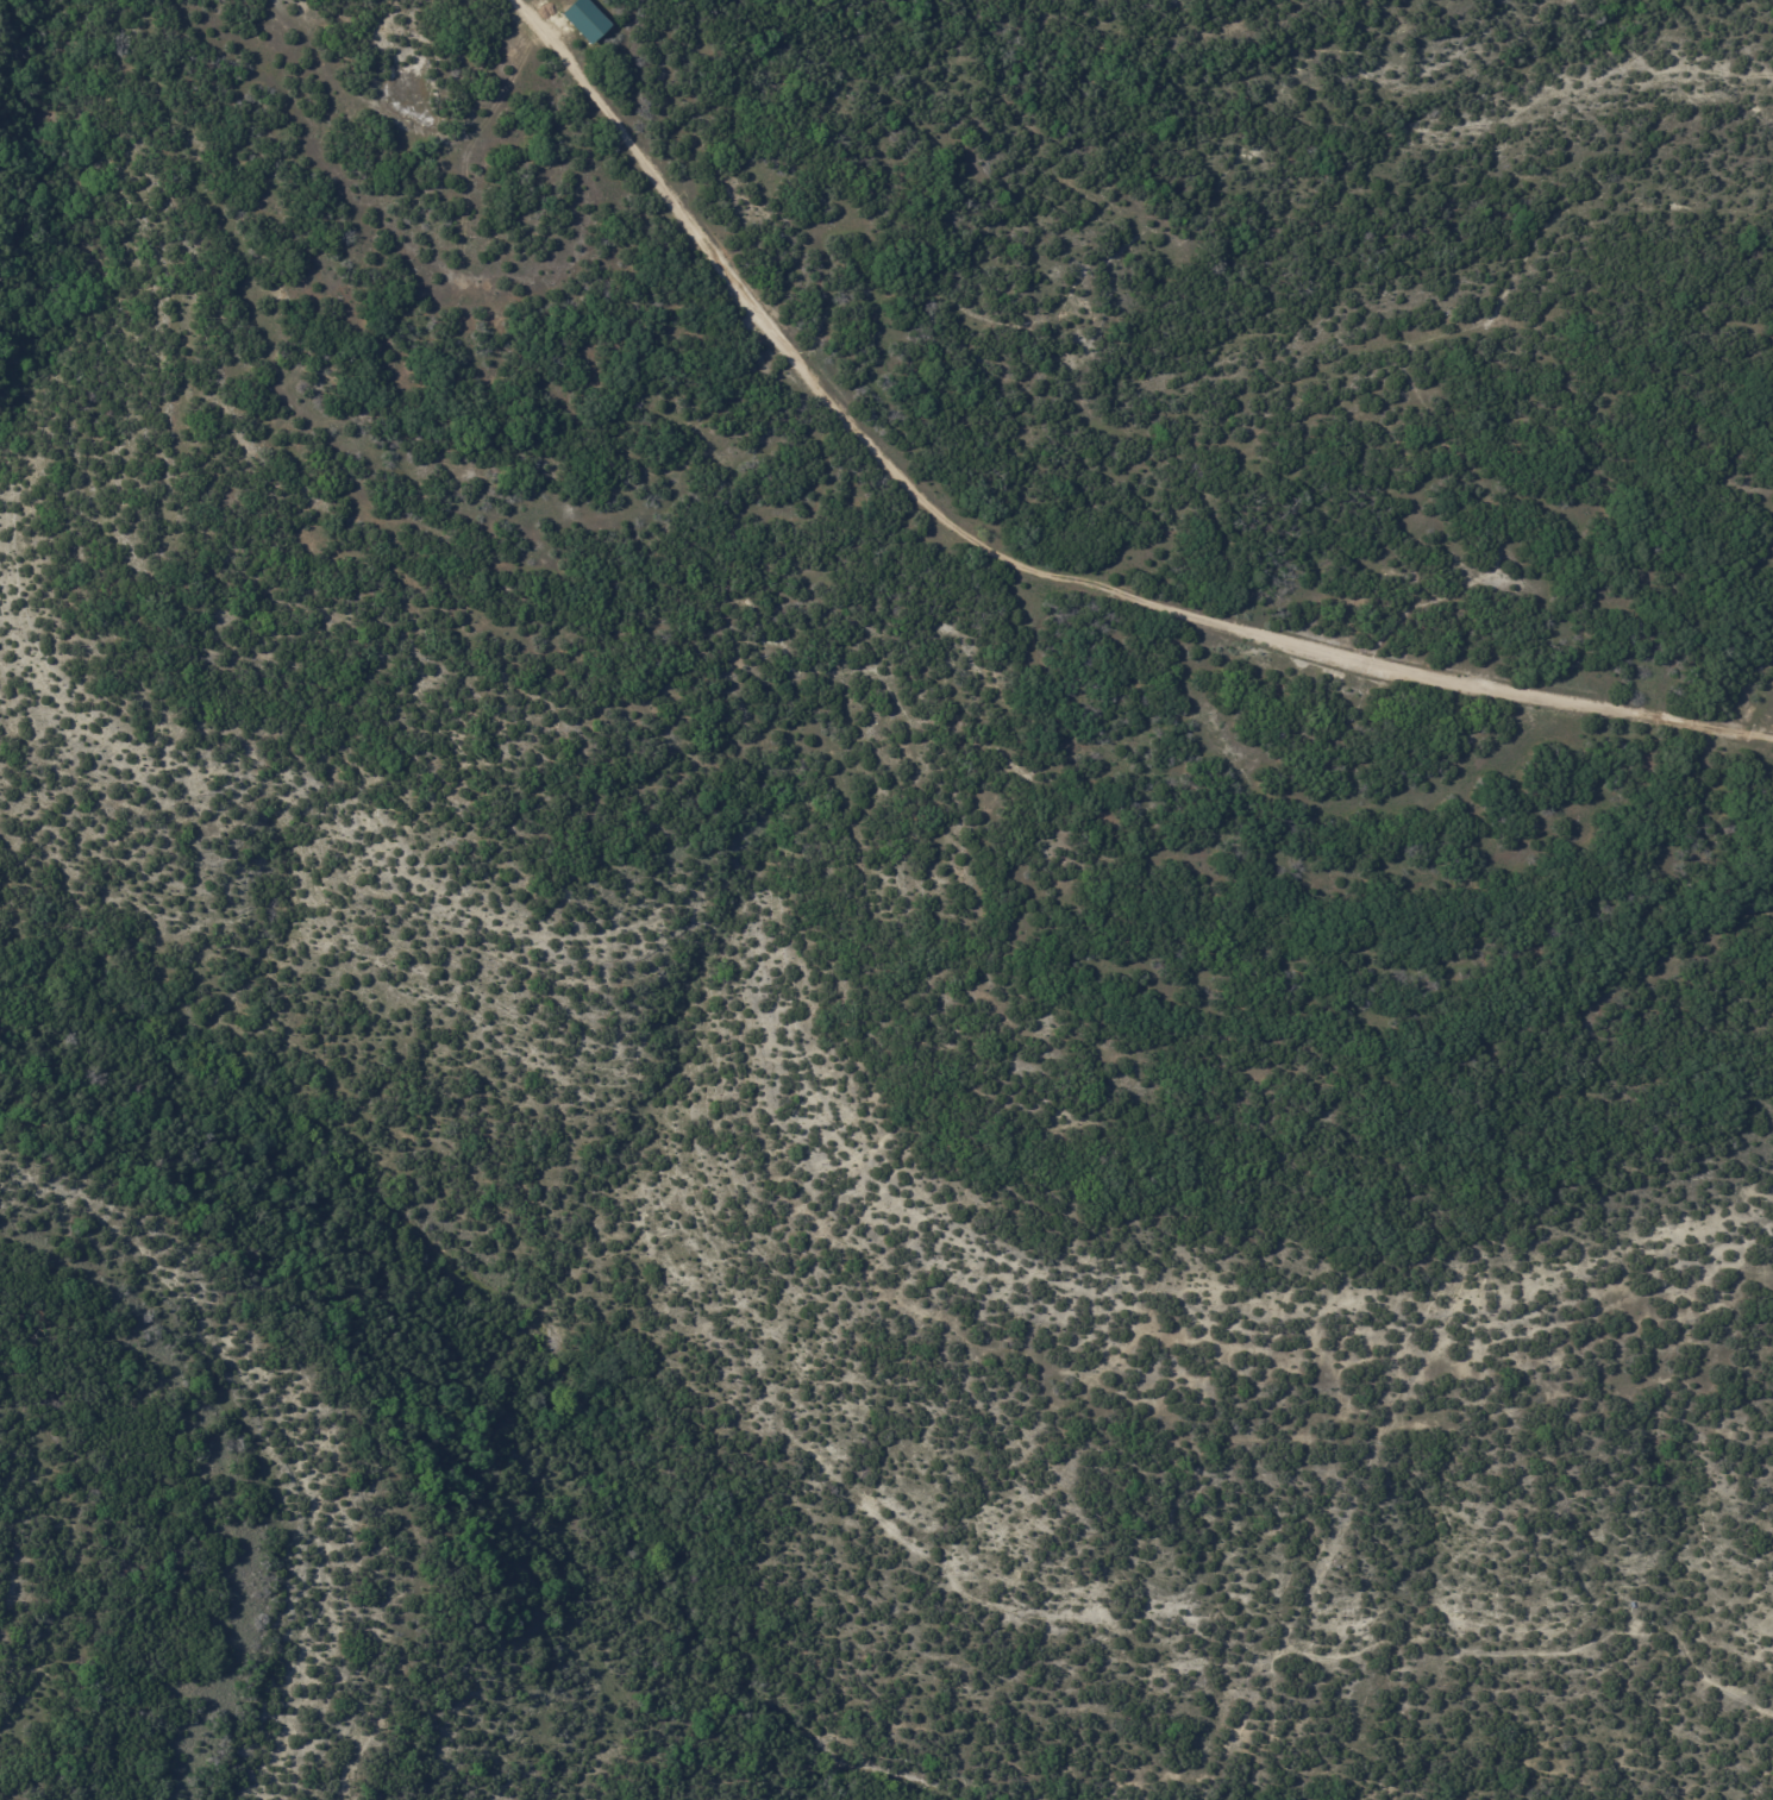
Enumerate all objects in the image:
road: (1020, 573)
building: (1634, 1605)

